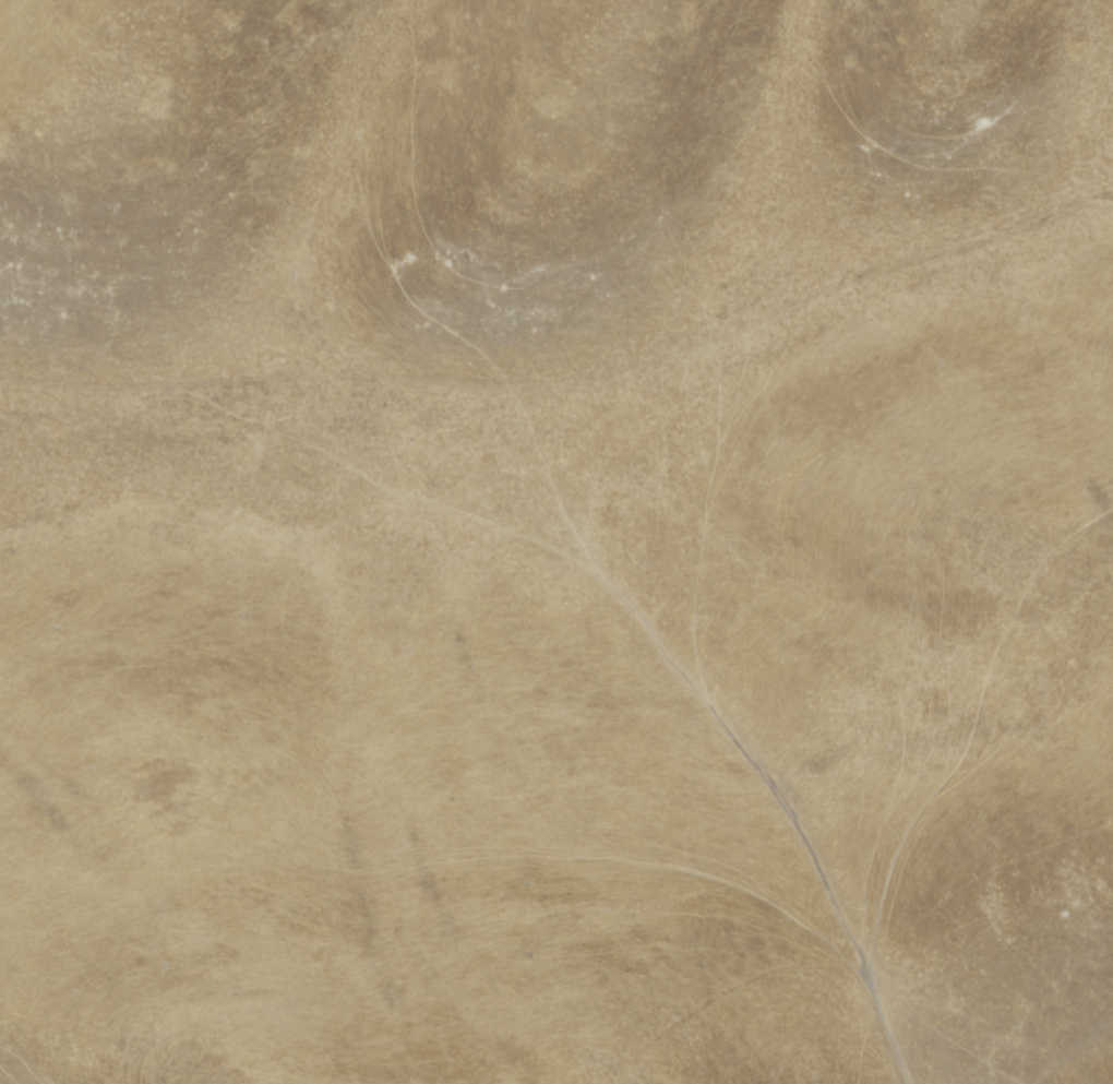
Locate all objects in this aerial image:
road: (570, 445)

